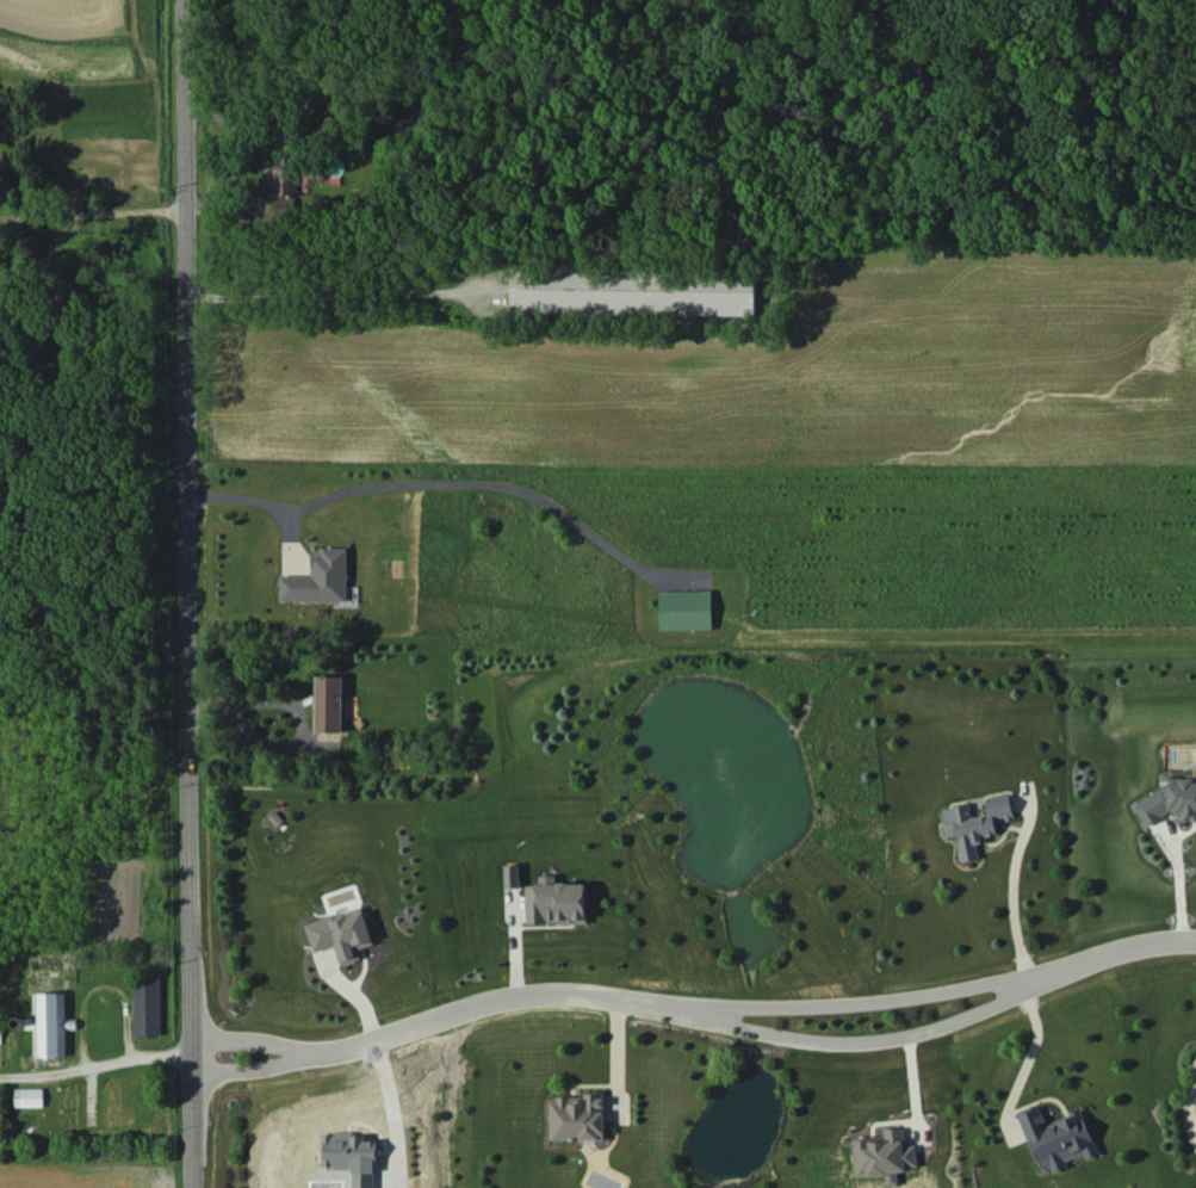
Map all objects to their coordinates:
building: (285, 185)
road: (91, 205)
road: (340, 285)
building: (632, 291)
road: (495, 479)
road: (252, 502)
building: (318, 578)
road: (185, 594)
building: (684, 610)
building: (329, 703)
road: (298, 718)
building: (1169, 800)
building: (975, 823)
building: (512, 875)
road: (1005, 898)
building: (556, 901)
building: (341, 933)
road: (1107, 946)
road: (492, 992)
road: (855, 997)
building: (147, 1006)
building: (49, 1023)
building: (0, 1033)
road: (249, 1034)
road: (859, 1034)
road: (1028, 1056)
road: (249, 1064)
road: (100, 1069)
building: (29, 1096)
building: (576, 1116)
building: (1056, 1138)
building: (885, 1152)
building: (351, 1156)

